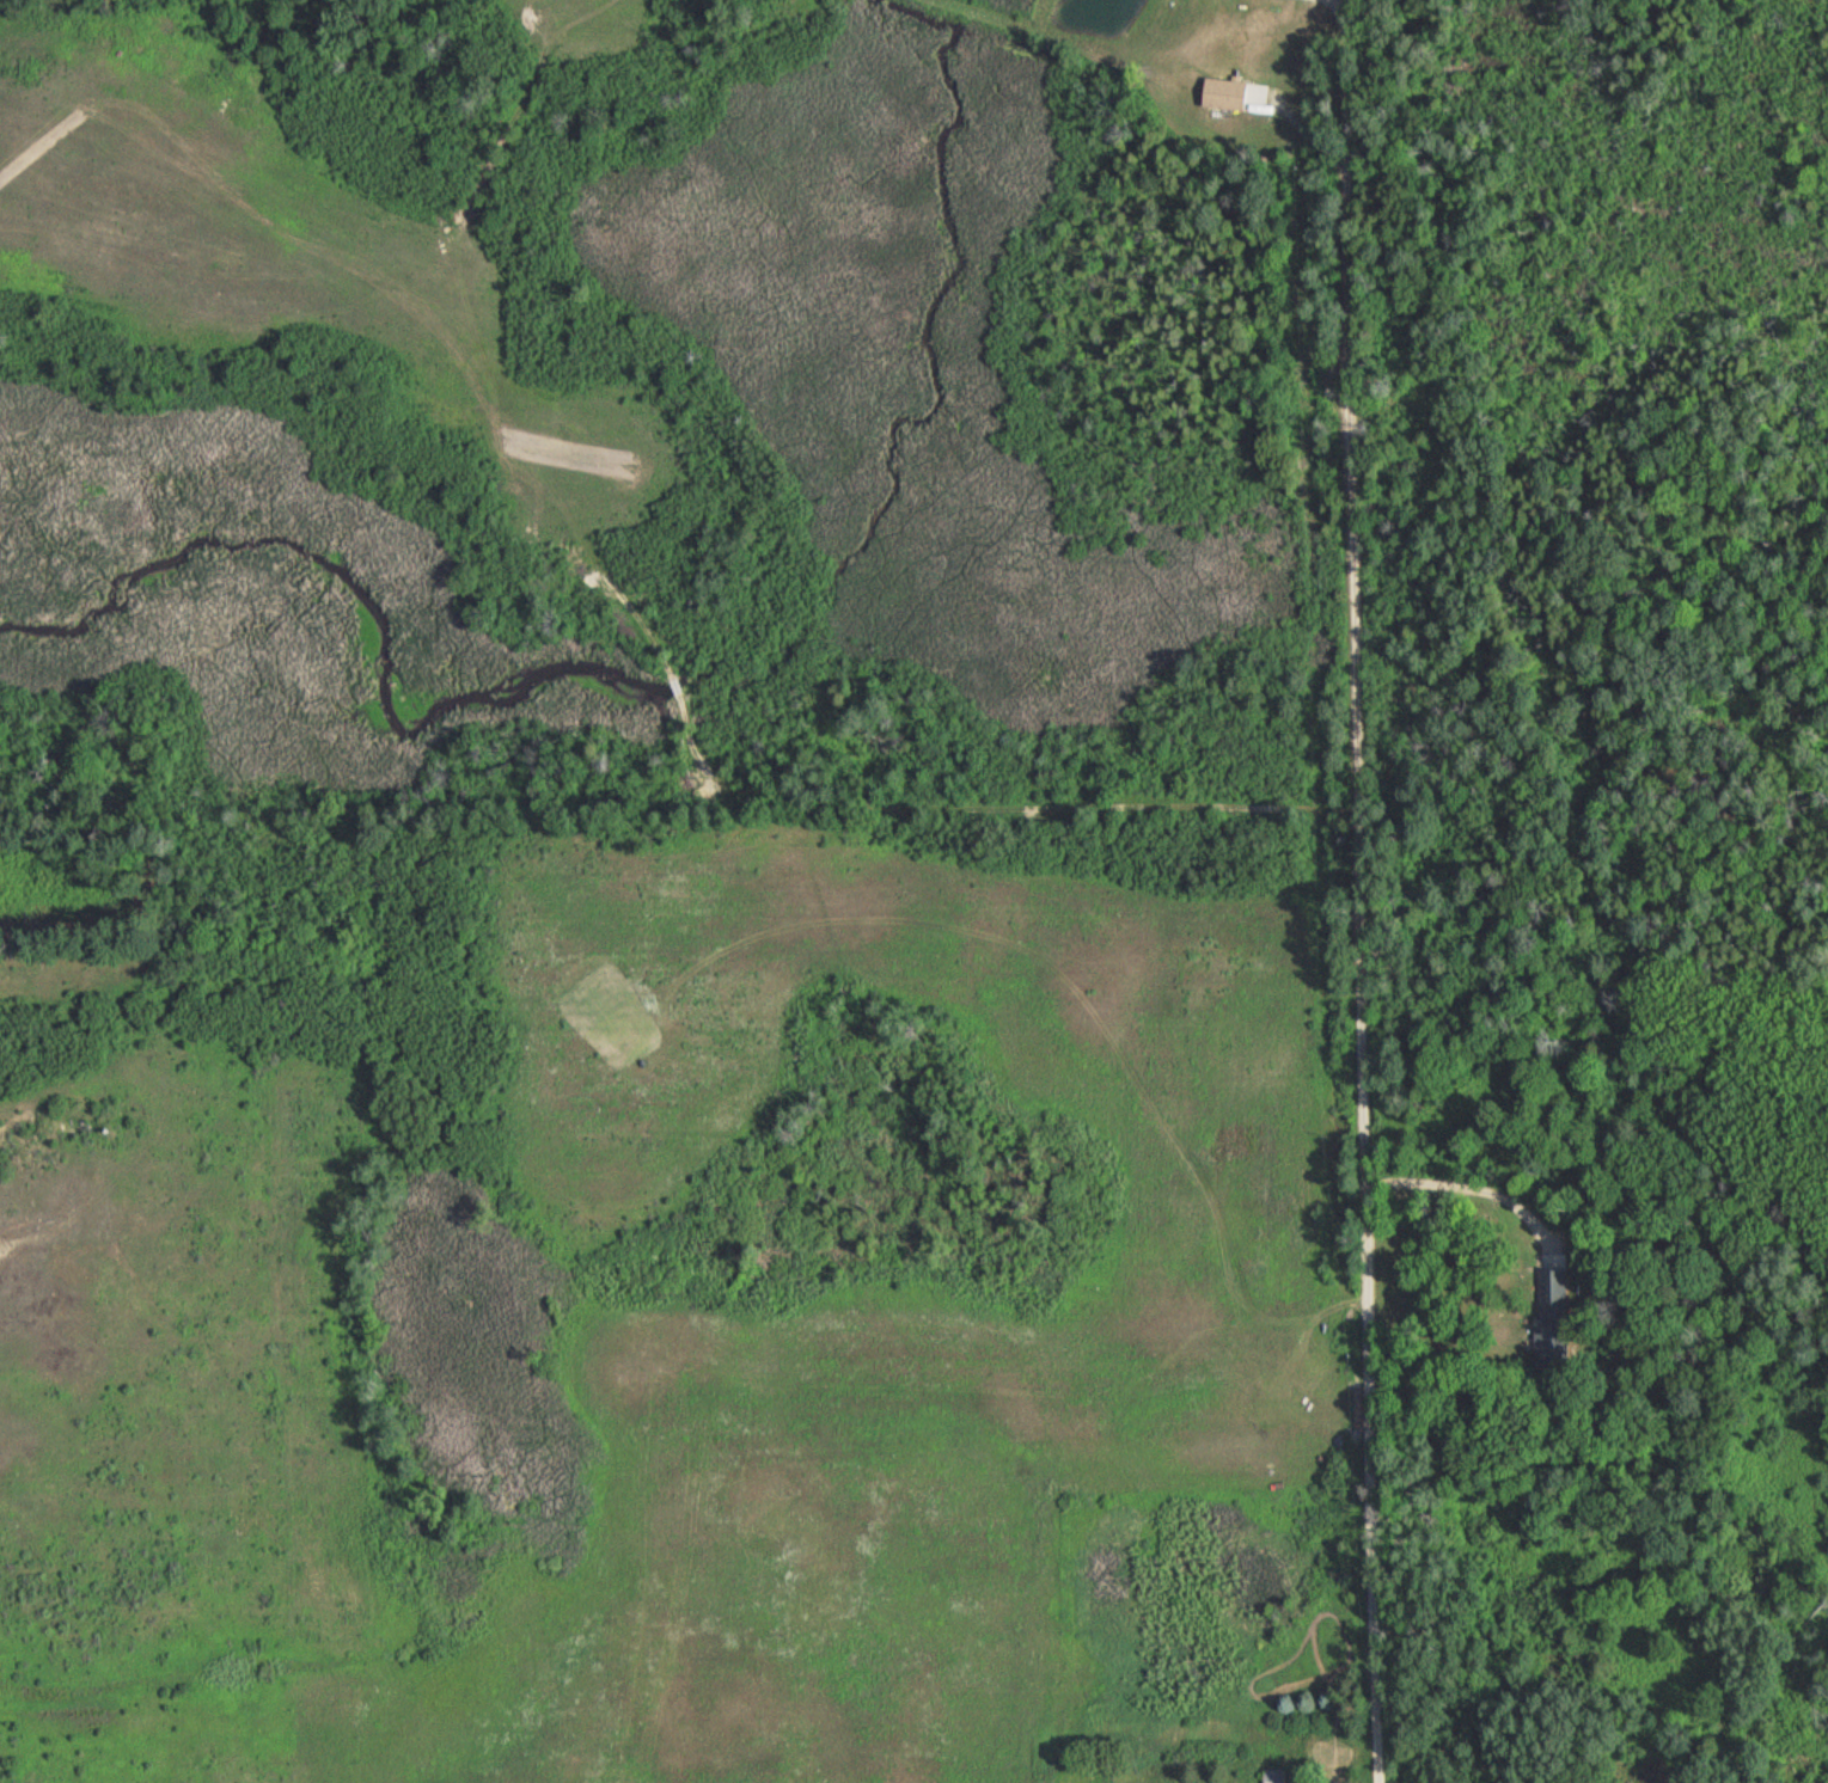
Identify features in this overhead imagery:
building: (1221, 93)
road: (1361, 890)
road: (1469, 1182)
building: (1272, 1776)

